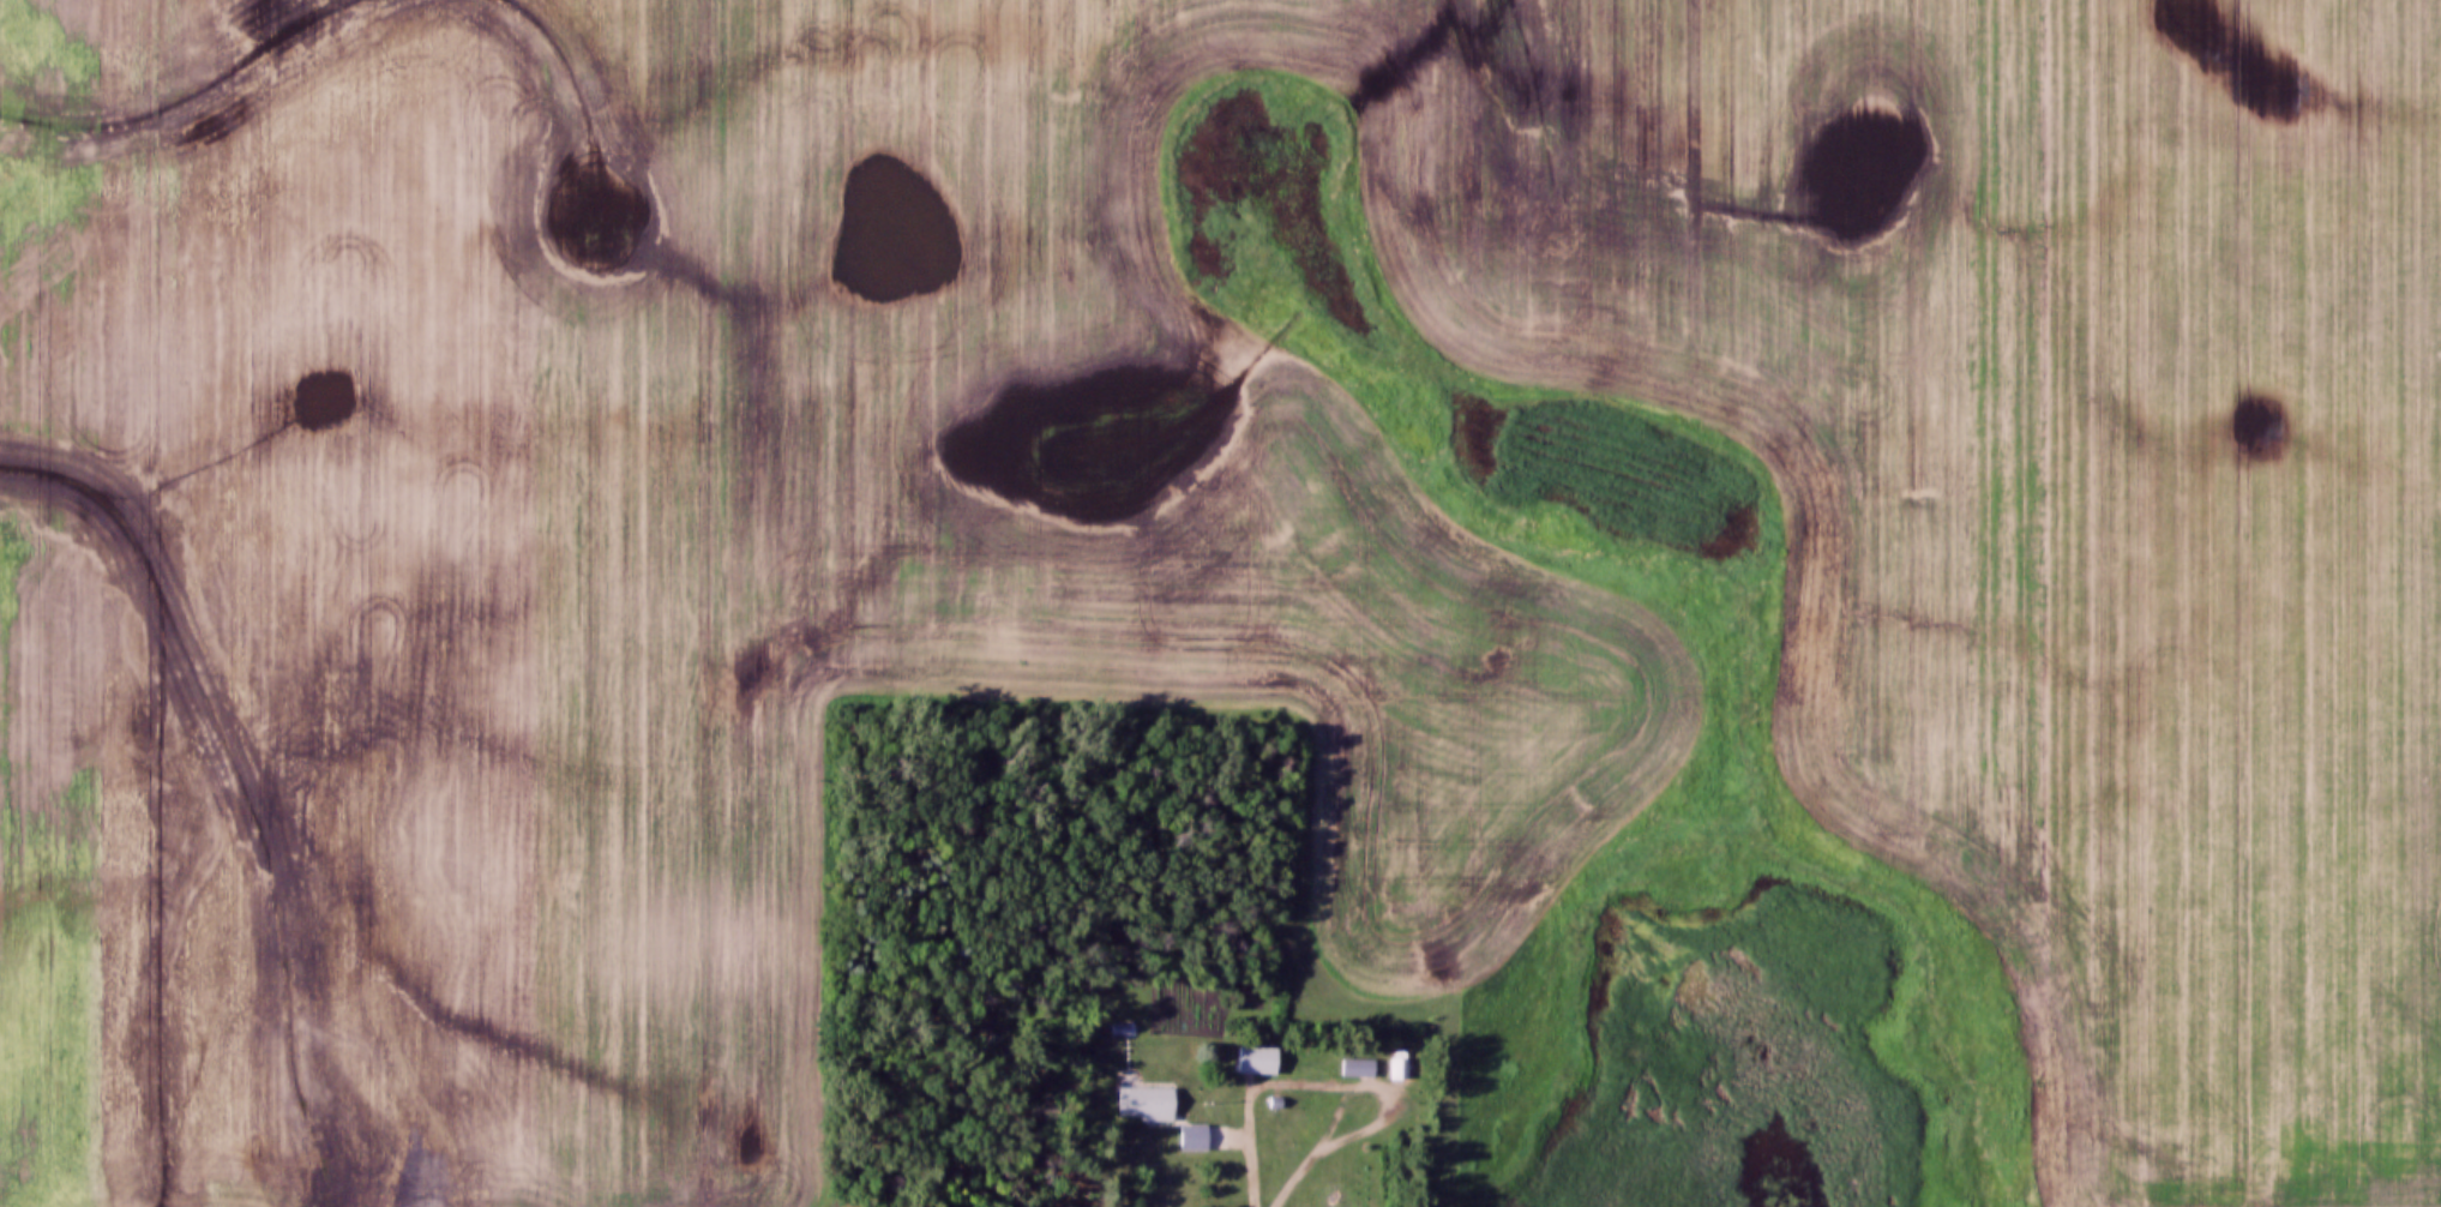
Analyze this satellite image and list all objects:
building: (1359, 1067)
building: (1401, 1068)
road: (1251, 1097)
road: (1400, 1097)
building: (1149, 1099)
building: (1195, 1136)
road: (1293, 1179)

